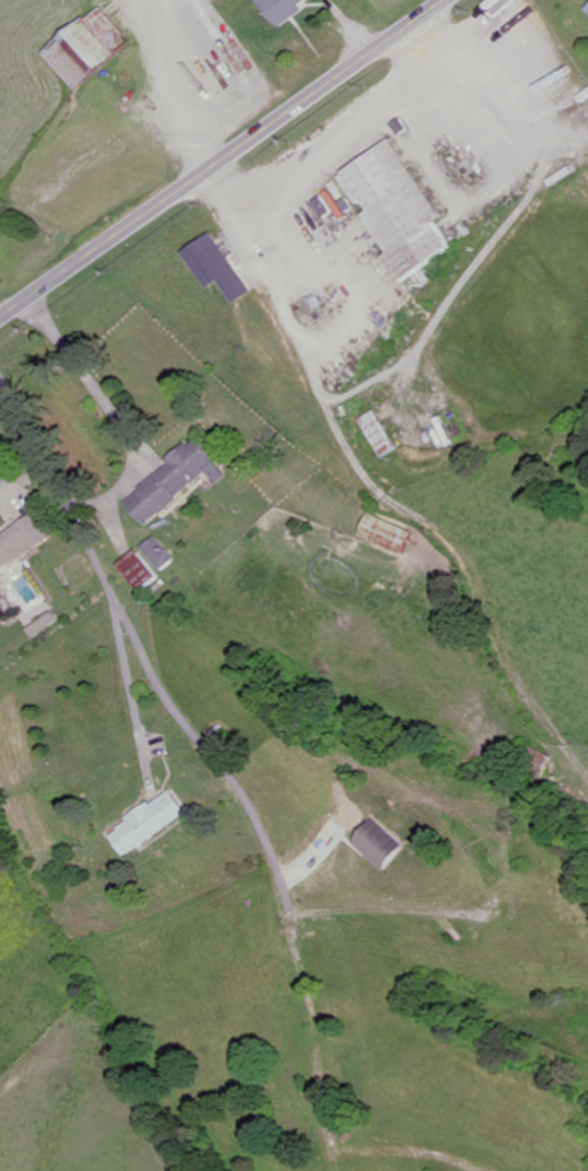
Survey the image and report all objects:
building: (284, 10)
building: (545, 37)
building: (91, 48)
road: (345, 147)
road: (223, 158)
building: (400, 210)
building: (217, 267)
road: (86, 381)
building: (378, 433)
building: (177, 483)
building: (392, 535)
building: (22, 541)
building: (162, 554)
building: (141, 572)
building: (534, 762)
building: (150, 823)
building: (381, 843)

